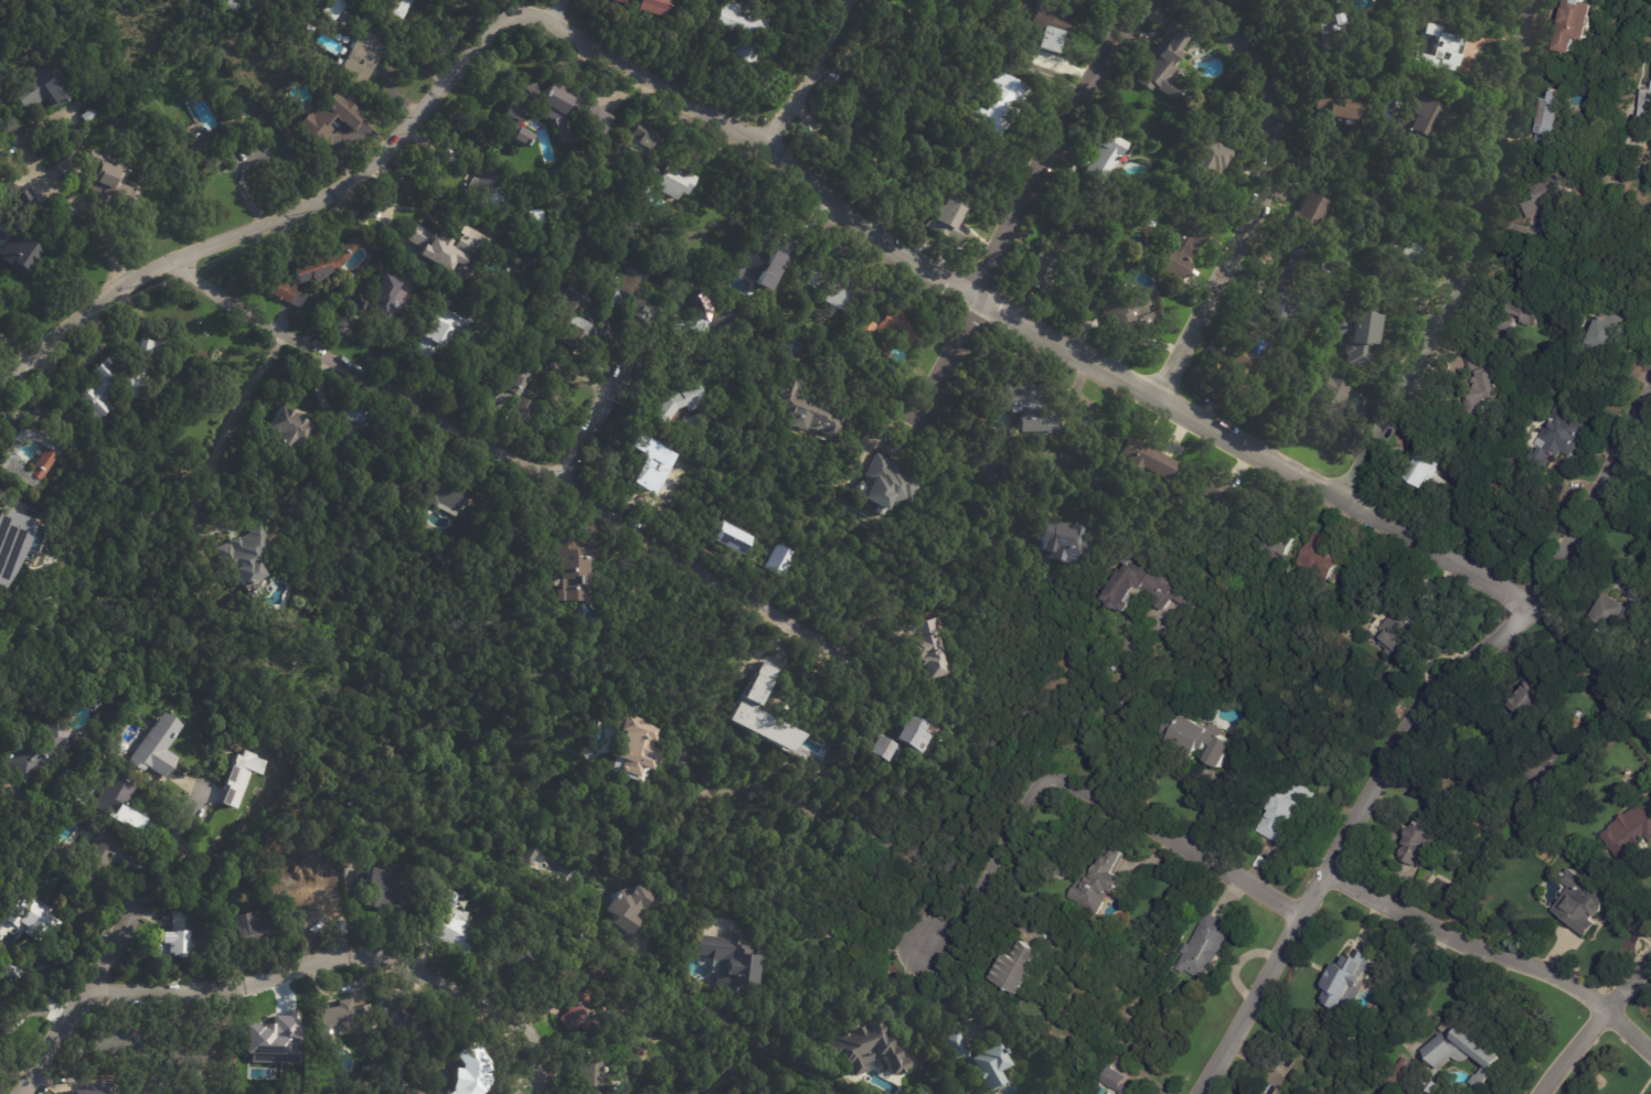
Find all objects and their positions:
building: (957, 0)
building: (252, 1)
building: (1276, 1)
building: (1023, 3)
building: (645, 6)
building: (334, 8)
building: (395, 11)
road: (560, 11)
building: (1334, 20)
building: (1322, 23)
building: (1576, 25)
building: (1053, 26)
building: (1310, 29)
building: (742, 30)
building: (1325, 40)
building: (7, 49)
building: (1438, 50)
building: (361, 60)
building: (1164, 62)
road: (810, 73)
building: (38, 90)
building: (853, 94)
building: (1004, 105)
building: (1340, 106)
building: (1644, 109)
building: (553, 112)
building: (86, 116)
building: (327, 118)
building: (1428, 119)
building: (1551, 120)
building: (230, 130)
building: (856, 131)
building: (643, 138)
road: (393, 140)
building: (193, 151)
building: (1105, 158)
building: (614, 161)
building: (1413, 162)
building: (1205, 164)
building: (66, 165)
building: (102, 175)
building: (665, 179)
building: (6, 191)
building: (487, 191)
building: (1544, 197)
road: (1026, 200)
road: (1263, 202)
building: (24, 203)
building: (1313, 212)
road: (84, 215)
building: (948, 222)
building: (536, 223)
building: (1150, 223)
building: (448, 247)
building: (1179, 248)
building: (20, 253)
building: (1404, 253)
building: (380, 260)
building: (756, 262)
building: (1298, 262)
road: (1469, 262)
building: (1051, 266)
building: (310, 271)
building: (837, 286)
building: (632, 294)
building: (382, 303)
building: (1279, 311)
building: (1130, 313)
building: (1523, 313)
building: (574, 314)
building: (705, 318)
building: (892, 325)
building: (1506, 326)
building: (450, 332)
building: (1604, 337)
building: (1362, 341)
building: (792, 343)
building: (148, 350)
building: (1478, 358)
building: (1245, 363)
road: (584, 376)
building: (491, 383)
building: (110, 387)
road: (1143, 390)
building: (1483, 393)
building: (502, 395)
building: (1219, 397)
building: (1330, 397)
building: (677, 398)
building: (767, 403)
building: (1026, 405)
building: (806, 406)
building: (352, 411)
road: (605, 412)
road: (224, 426)
building: (286, 429)
building: (1558, 440)
building: (338, 447)
road: (980, 452)
building: (49, 454)
building: (1146, 458)
building: (656, 475)
building: (390, 479)
road: (558, 480)
building: (890, 482)
building: (1420, 487)
building: (1207, 491)
building: (445, 494)
building: (729, 538)
building: (1272, 539)
building: (1062, 541)
building: (11, 544)
building: (1320, 558)
building: (247, 559)
building: (778, 560)
building: (573, 565)
building: (1147, 587)
building: (252, 591)
building: (1616, 619)
building: (1397, 636)
building: (925, 643)
building: (768, 657)
building: (760, 689)
building: (90, 701)
building: (1528, 706)
road: (1123, 728)
road: (1404, 728)
building: (913, 733)
building: (1197, 738)
building: (155, 746)
building: (635, 747)
building: (885, 749)
building: (41, 750)
building: (239, 775)
road: (1079, 789)
building: (114, 800)
building: (1285, 813)
building: (364, 824)
road: (844, 824)
building: (1630, 834)
building: (1421, 843)
building: (530, 855)
building: (541, 858)
building: (96, 859)
building: (1100, 883)
building: (384, 889)
building: (1583, 903)
building: (316, 904)
building: (625, 909)
building: (33, 919)
building: (251, 931)
building: (454, 931)
road: (115, 941)
building: (178, 943)
road: (843, 946)
building: (1203, 947)
road: (345, 954)
building: (513, 954)
road: (1492, 954)
building: (727, 961)
building: (1018, 969)
building: (7, 973)
building: (1346, 983)
building: (580, 993)
road: (938, 996)
building: (1, 1004)
building: (341, 1020)
road: (1595, 1026)
building: (405, 1030)
building: (3, 1033)
building: (271, 1040)
building: (120, 1042)
building: (1461, 1048)
building: (867, 1050)
building: (202, 1053)
building: (978, 1062)
building: (466, 1070)
building: (587, 1075)
building: (1400, 1076)
building: (1483, 1080)
building: (1115, 1082)
building: (78, 1087)
building: (1434, 1087)
building: (1259, 1093)
building: (1260, 1093)

